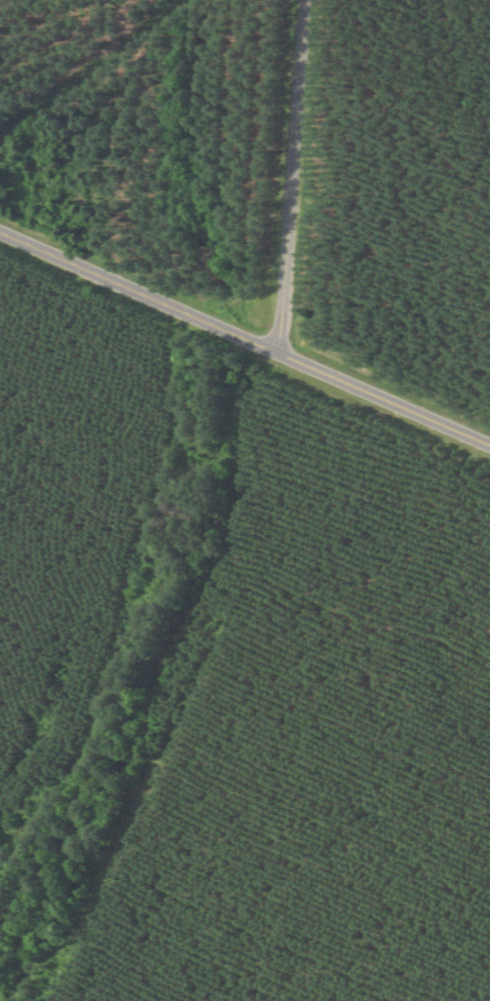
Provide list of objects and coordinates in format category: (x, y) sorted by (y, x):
road: (294, 183)
road: (245, 352)

